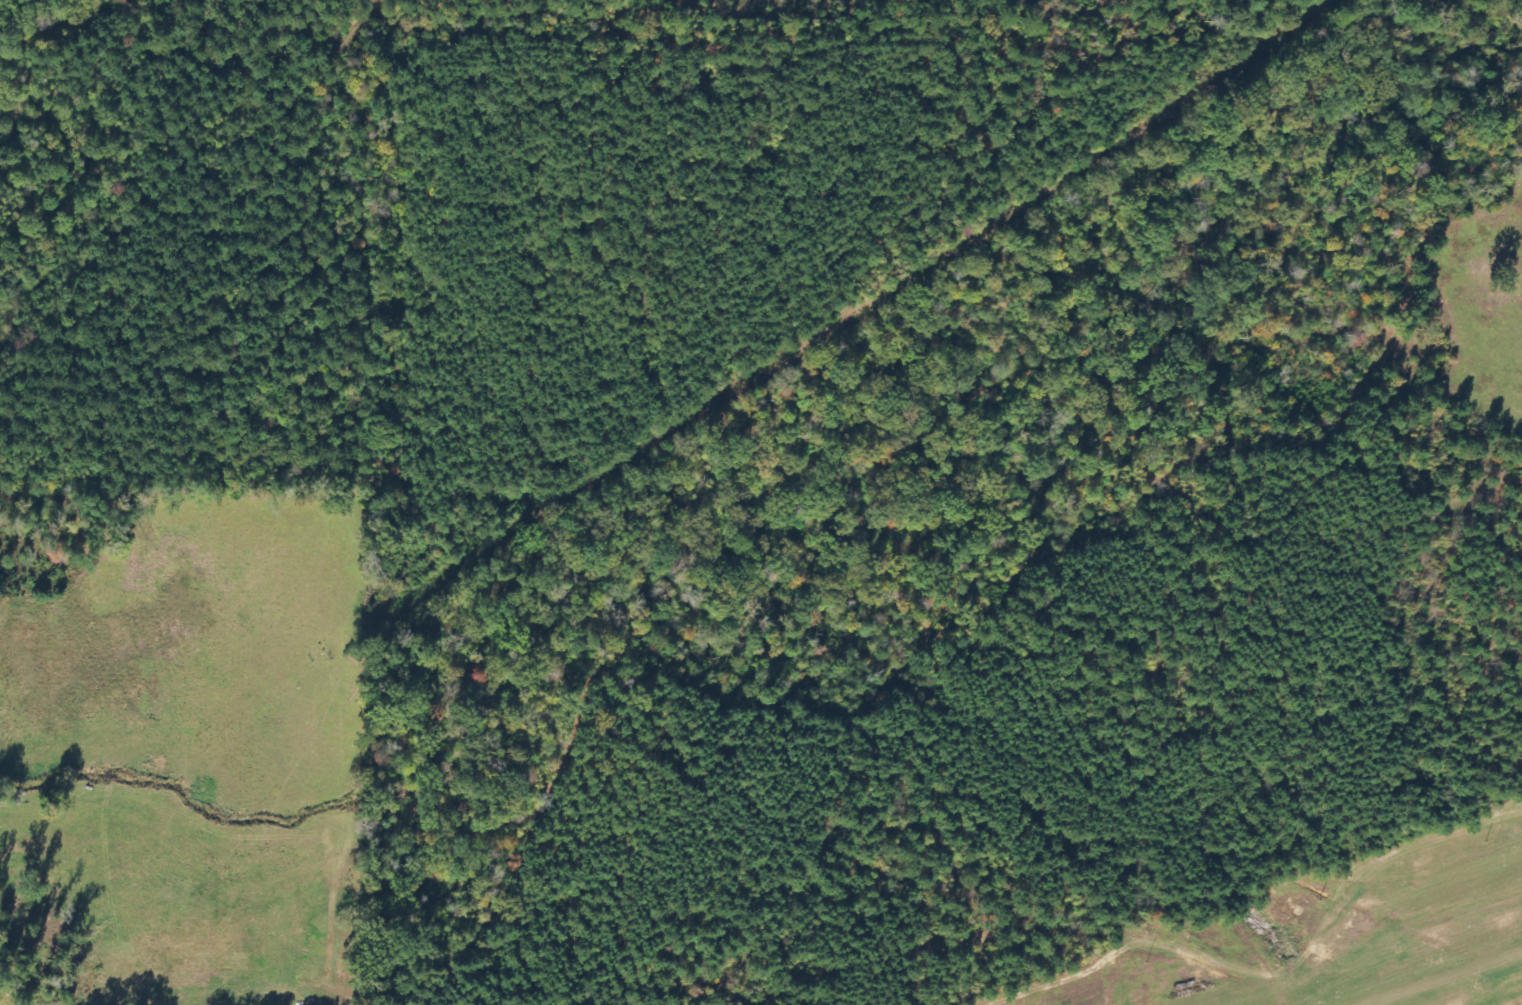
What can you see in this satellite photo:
airport runway: (1465, 985)

